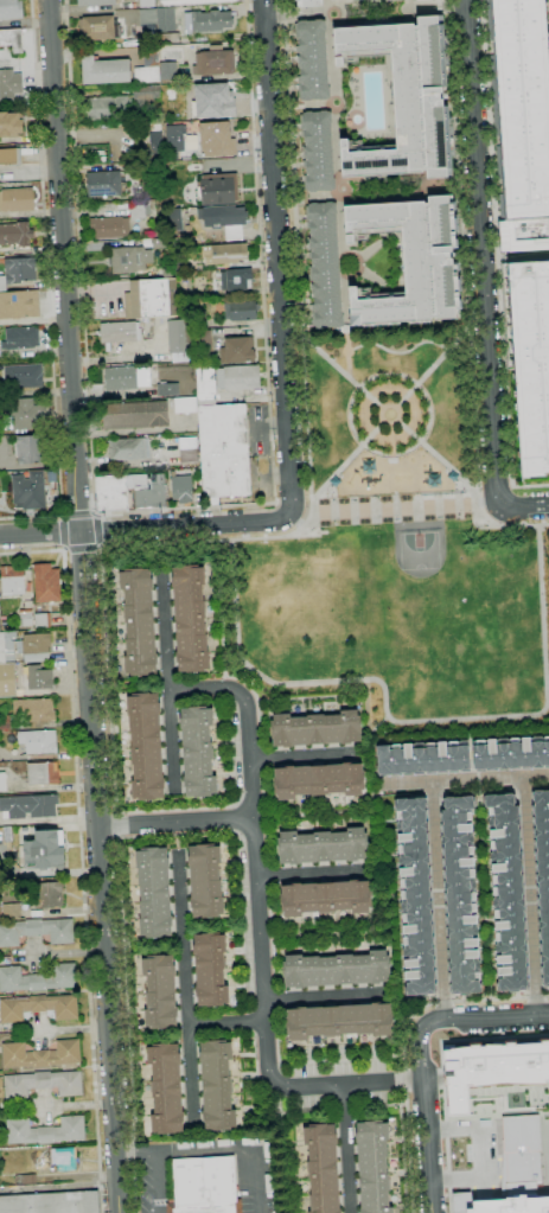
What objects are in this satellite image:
building: (94, 2)
building: (189, 2)
building: (308, 2)
building: (147, 4)
building: (11, 9)
building: (166, 19)
building: (206, 20)
building: (147, 23)
building: (95, 27)
building: (168, 38)
building: (11, 39)
building: (312, 59)
building: (213, 62)
building: (147, 66)
building: (104, 70)
building: (167, 72)
building: (9, 83)
building: (145, 91)
building: (403, 97)
building: (212, 100)
building: (523, 106)
building: (104, 107)
building: (9, 125)
building: (174, 139)
building: (215, 139)
building: (153, 145)
building: (318, 151)
building: (9, 157)
road: (459, 164)
road: (291, 168)
building: (102, 183)
building: (217, 190)
building: (15, 199)
building: (221, 215)
building: (174, 222)
building: (109, 228)
building: (231, 232)
building: (15, 235)
building: (158, 243)
building: (226, 253)
road: (483, 253)
building: (129, 258)
road: (277, 258)
road: (496, 261)
building: (409, 263)
building: (181, 264)
road: (63, 266)
building: (325, 266)
building: (17, 272)
building: (236, 280)
building: (184, 283)
road: (47, 287)
building: (149, 298)
building: (19, 305)
road: (345, 306)
building: (241, 311)
building: (200, 319)
building: (116, 331)
building: (178, 336)
building: (18, 339)
building: (204, 340)
building: (237, 350)
road: (397, 352)
road: (347, 353)
building: (531, 362)
building: (23, 376)
building: (119, 377)
building: (237, 377)
building: (205, 385)
road: (417, 387)
building: (167, 390)
building: (185, 406)
road: (473, 408)
road: (389, 413)
road: (390, 413)
building: (134, 415)
building: (25, 416)
road: (306, 419)
building: (127, 448)
building: (30, 449)
building: (187, 451)
building: (223, 451)
building: (179, 486)
road: (510, 486)
road: (493, 487)
road: (479, 490)
building: (28, 491)
building: (129, 492)
road: (478, 498)
road: (306, 500)
road: (288, 502)
road: (275, 503)
road: (178, 507)
road: (311, 507)
road: (525, 507)
road: (406, 509)
road: (92, 513)
road: (62, 516)
road: (63, 517)
road: (543, 524)
road: (503, 525)
road: (184, 526)
road: (39, 535)
road: (276, 537)
road: (98, 545)
park: (419, 547)
road: (63, 548)
park: (395, 551)
building: (12, 581)
building: (46, 583)
building: (25, 618)
building: (190, 619)
building: (42, 620)
building: (139, 621)
building: (7, 646)
building: (33, 647)
building: (7, 681)
building: (36, 681)
road: (166, 682)
road: (248, 684)
building: (27, 713)
road: (401, 720)
building: (315, 729)
road: (370, 735)
building: (38, 741)
building: (145, 746)
building: (197, 752)
building: (511, 753)
road: (305, 756)
building: (423, 758)
building: (42, 773)
building: (318, 780)
road: (466, 780)
building: (2, 781)
building: (28, 806)
road: (115, 812)
road: (175, 823)
building: (43, 828)
building: (321, 847)
road: (79, 850)
building: (44, 851)
road: (100, 872)
building: (543, 873)
road: (311, 874)
building: (205, 881)
building: (153, 893)
building: (509, 893)
building: (47, 894)
building: (460, 895)
building: (416, 896)
road: (530, 896)
building: (325, 898)
railway: (435, 898)
road: (438, 900)
building: (8, 909)
road: (260, 926)
building: (37, 931)
building: (210, 970)
building: (336, 970)
building: (38, 978)
road: (186, 988)
building: (159, 991)
road: (325, 996)
building: (38, 1008)
building: (338, 1021)
road: (226, 1022)
road: (403, 1042)
building: (39, 1055)
road: (421, 1055)
building: (492, 1070)
building: (42, 1084)
building: (216, 1085)
building: (165, 1088)
building: (44, 1131)
road: (346, 1149)
road: (232, 1150)
road: (135, 1151)
building: (64, 1158)
building: (372, 1167)
building: (321, 1168)
road: (489, 1174)
building: (25, 1179)
road: (157, 1182)
building: (204, 1186)
building: (51, 1204)
building: (498, 1205)

